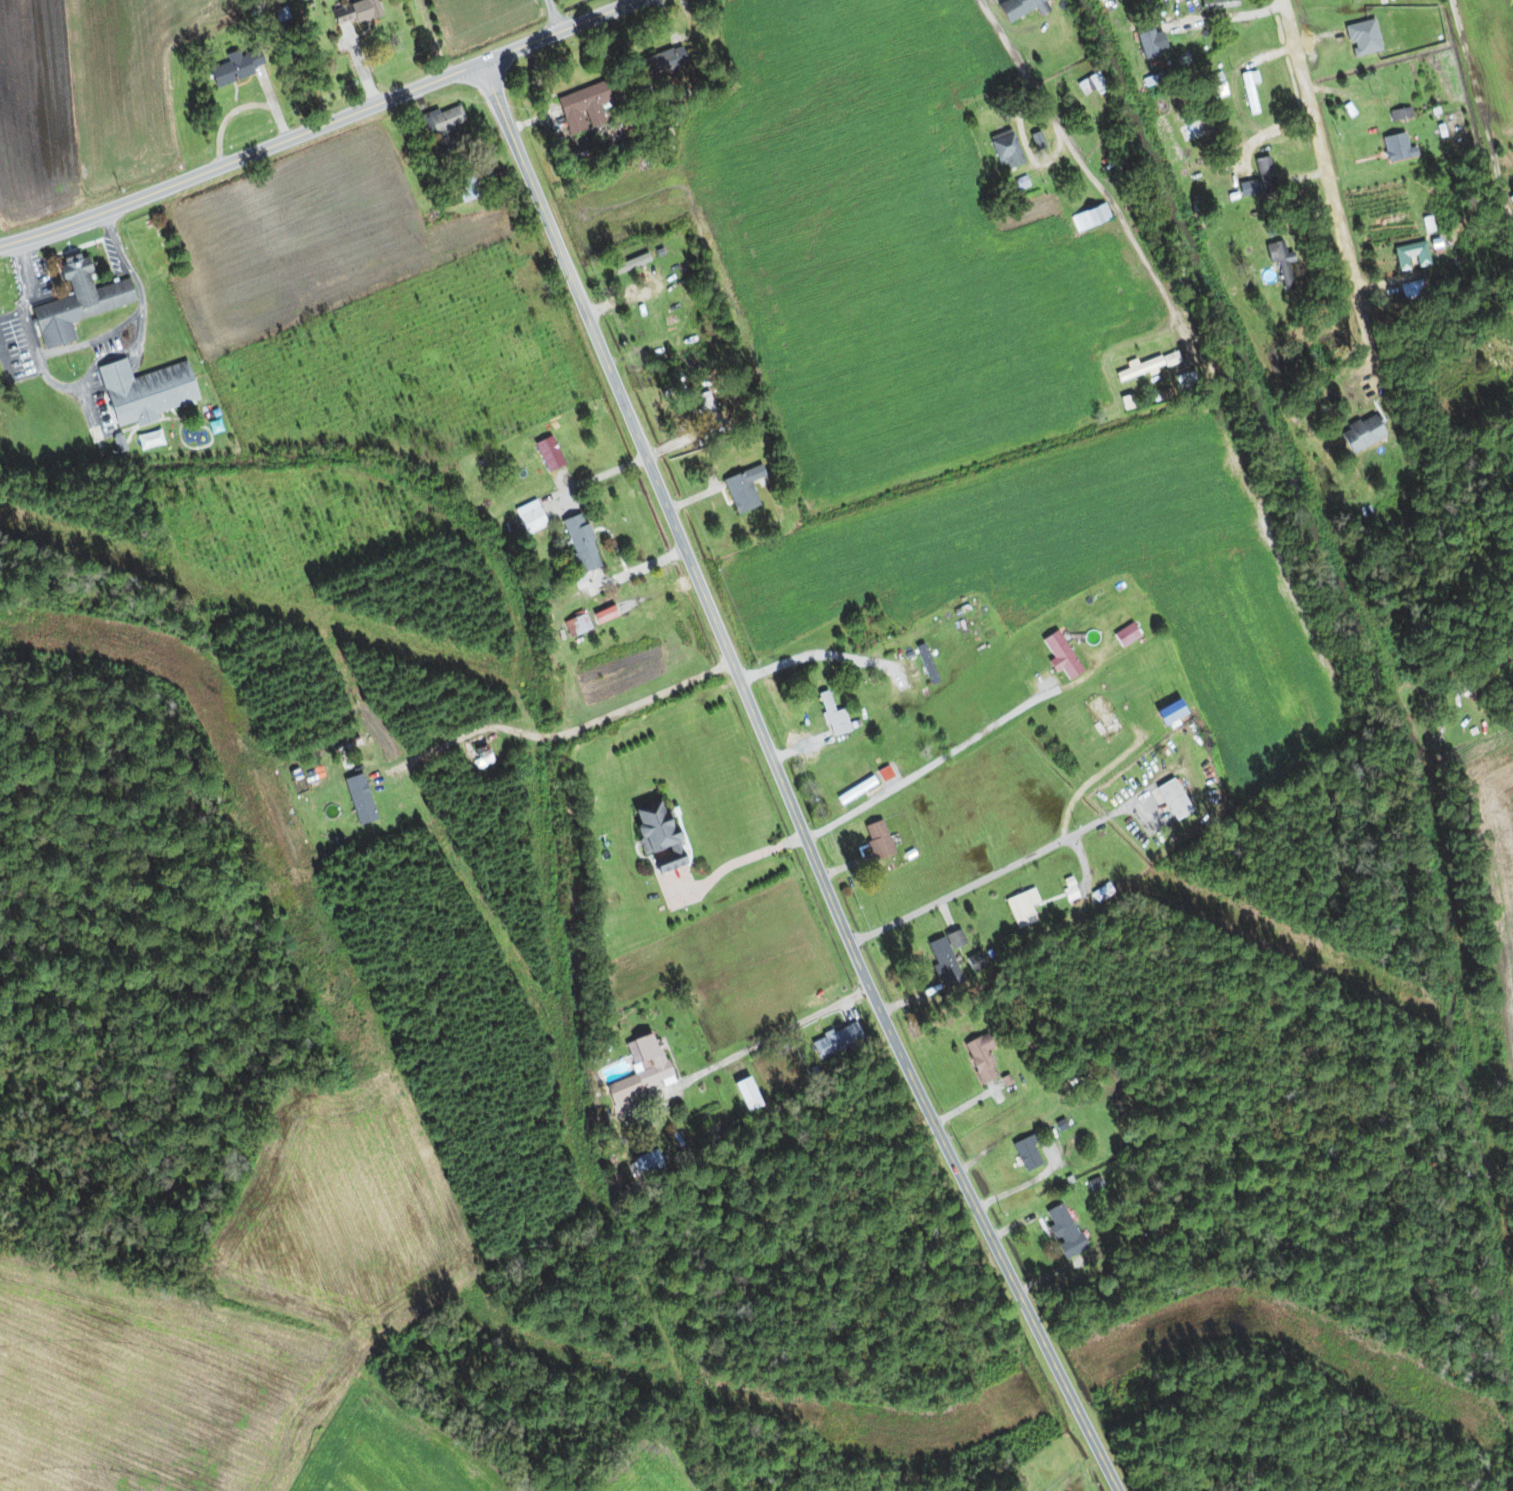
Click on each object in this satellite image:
building: (1218, 4)
building: (1017, 8)
building: (352, 12)
road: (550, 15)
building: (1155, 48)
building: (667, 60)
building: (236, 67)
building: (1089, 85)
building: (1215, 86)
building: (1248, 93)
building: (1372, 103)
building: (582, 107)
building: (1399, 114)
building: (444, 124)
road: (318, 127)
road: (1272, 129)
building: (1004, 150)
road: (1322, 158)
road: (1083, 160)
building: (1264, 174)
building: (469, 187)
building: (1089, 217)
building: (1410, 256)
building: (634, 262)
building: (1281, 263)
building: (1412, 292)
building: (75, 303)
building: (1139, 369)
building: (1182, 380)
building: (143, 392)
building: (704, 407)
building: (1361, 434)
building: (148, 440)
building: (451, 472)
building: (741, 489)
building: (531, 521)
building: (579, 543)
building: (579, 624)
building: (833, 716)
building: (1101, 717)
road: (562, 728)
building: (479, 755)
road: (915, 775)
building: (313, 780)
road: (782, 783)
building: (855, 787)
building: (1172, 800)
building: (367, 807)
building: (655, 834)
building: (877, 841)
road: (997, 870)
building: (1022, 908)
building: (944, 959)
road: (768, 1040)
building: (834, 1040)
building: (980, 1058)
building: (639, 1069)
building: (1026, 1154)
building: (638, 1167)
building: (1090, 1187)
building: (1063, 1232)

